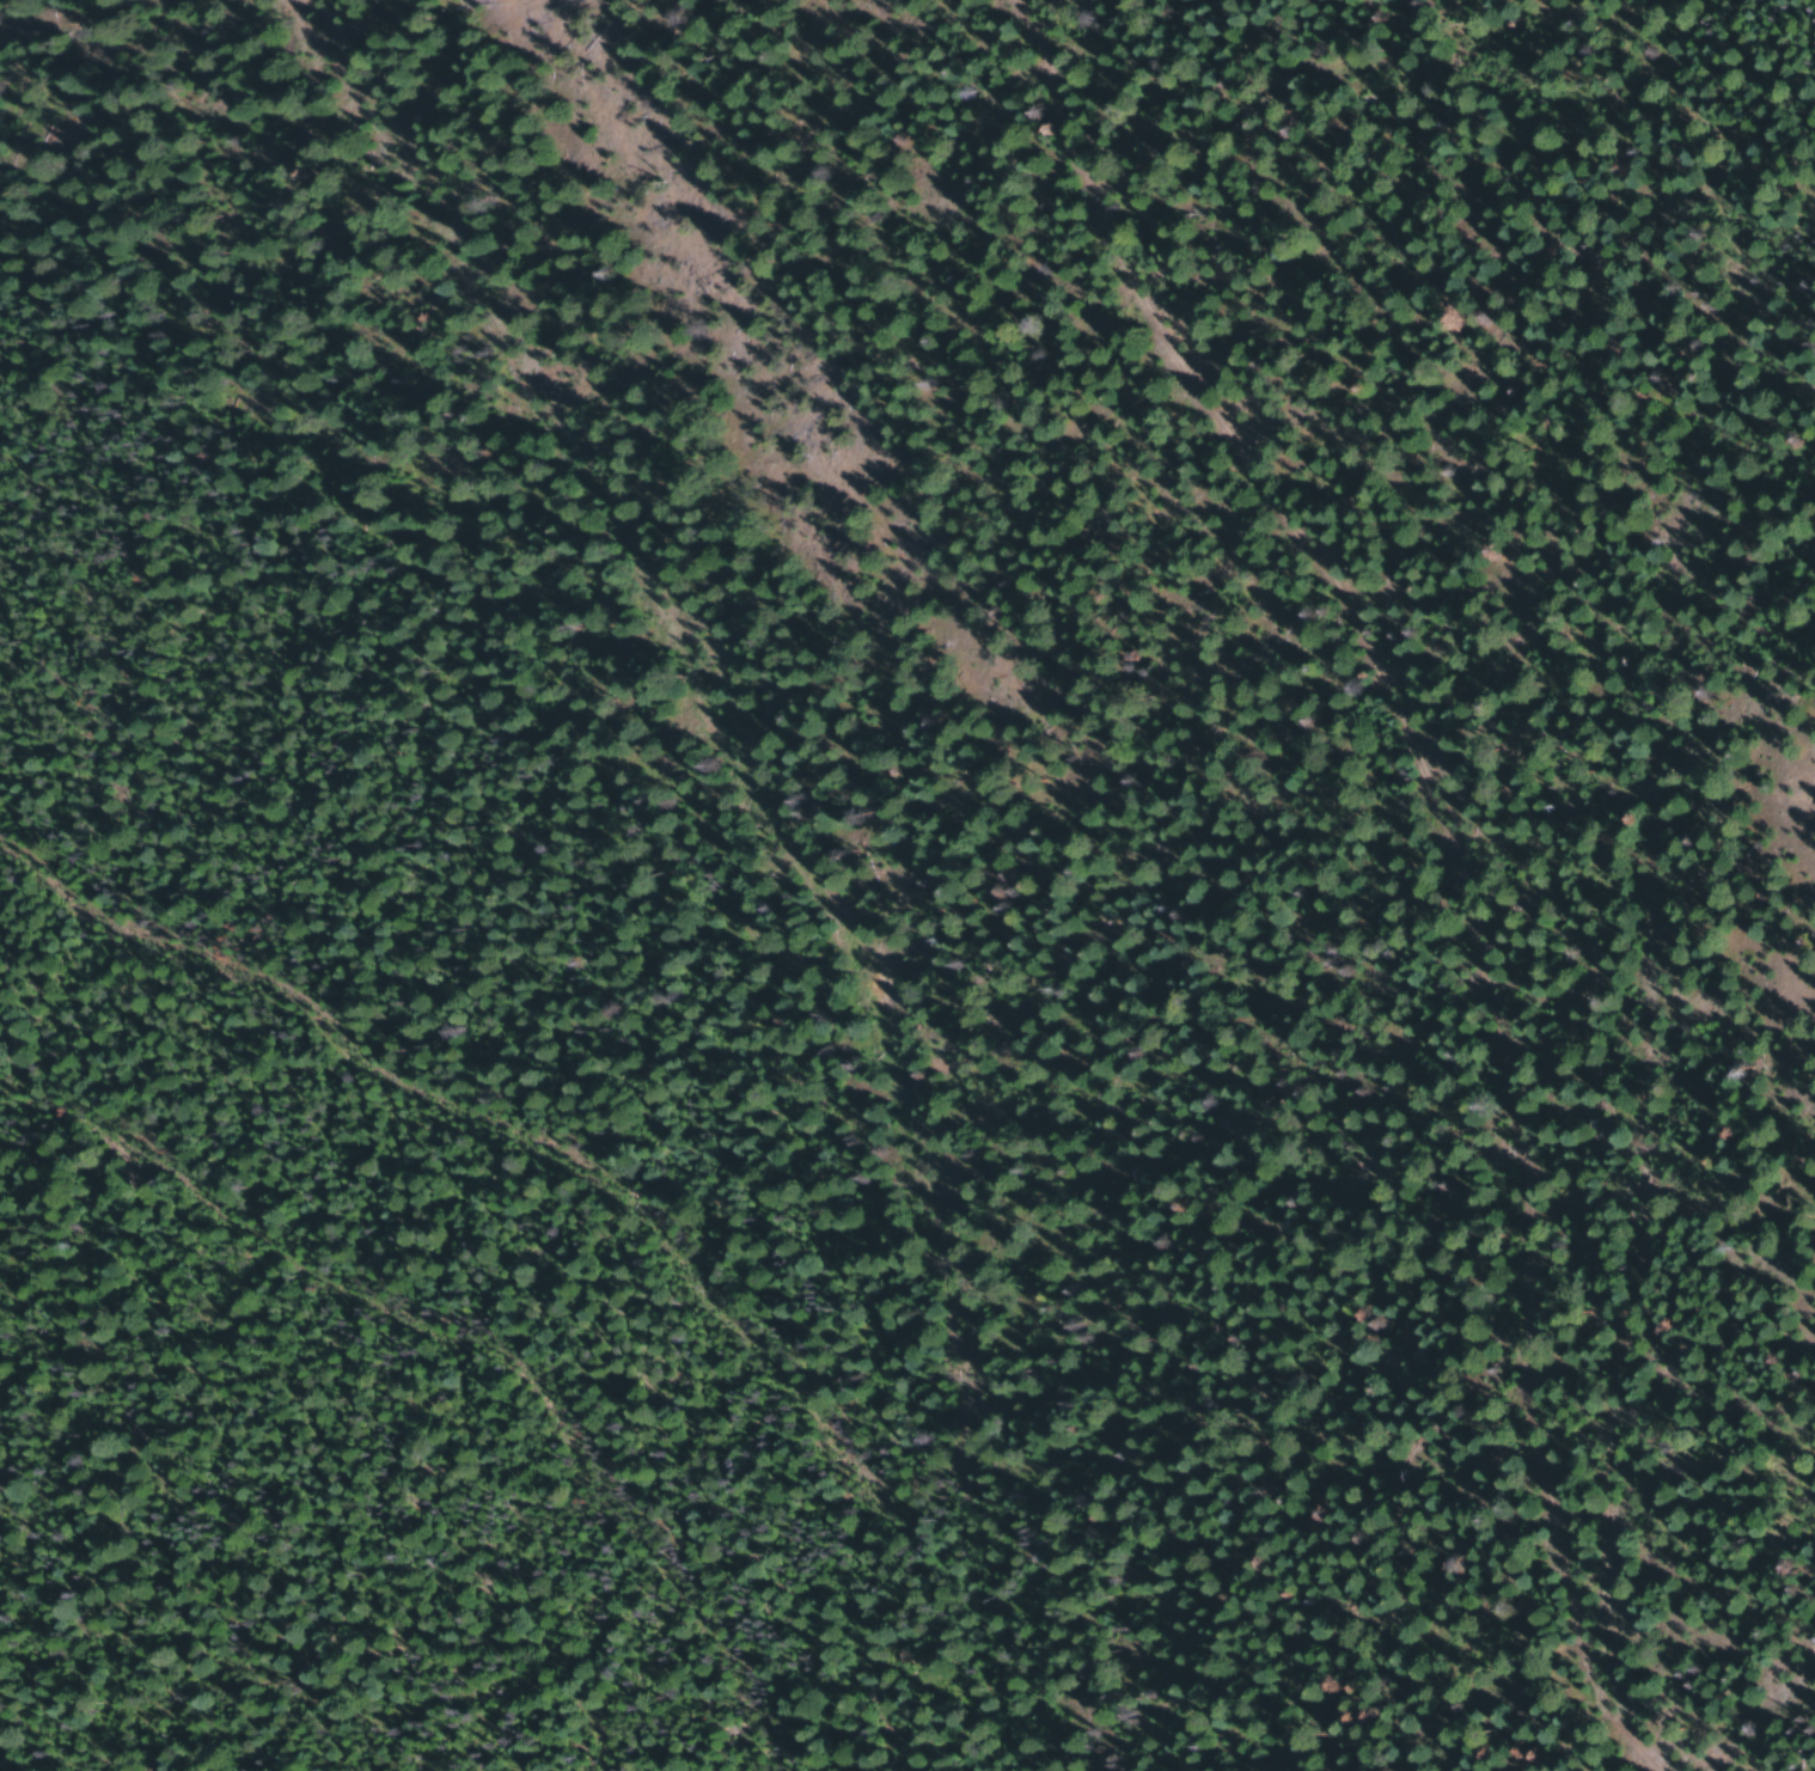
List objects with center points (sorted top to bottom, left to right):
road: (12, 199)
road: (699, 859)
road: (1276, 875)
road: (1550, 978)
road: (390, 1448)

